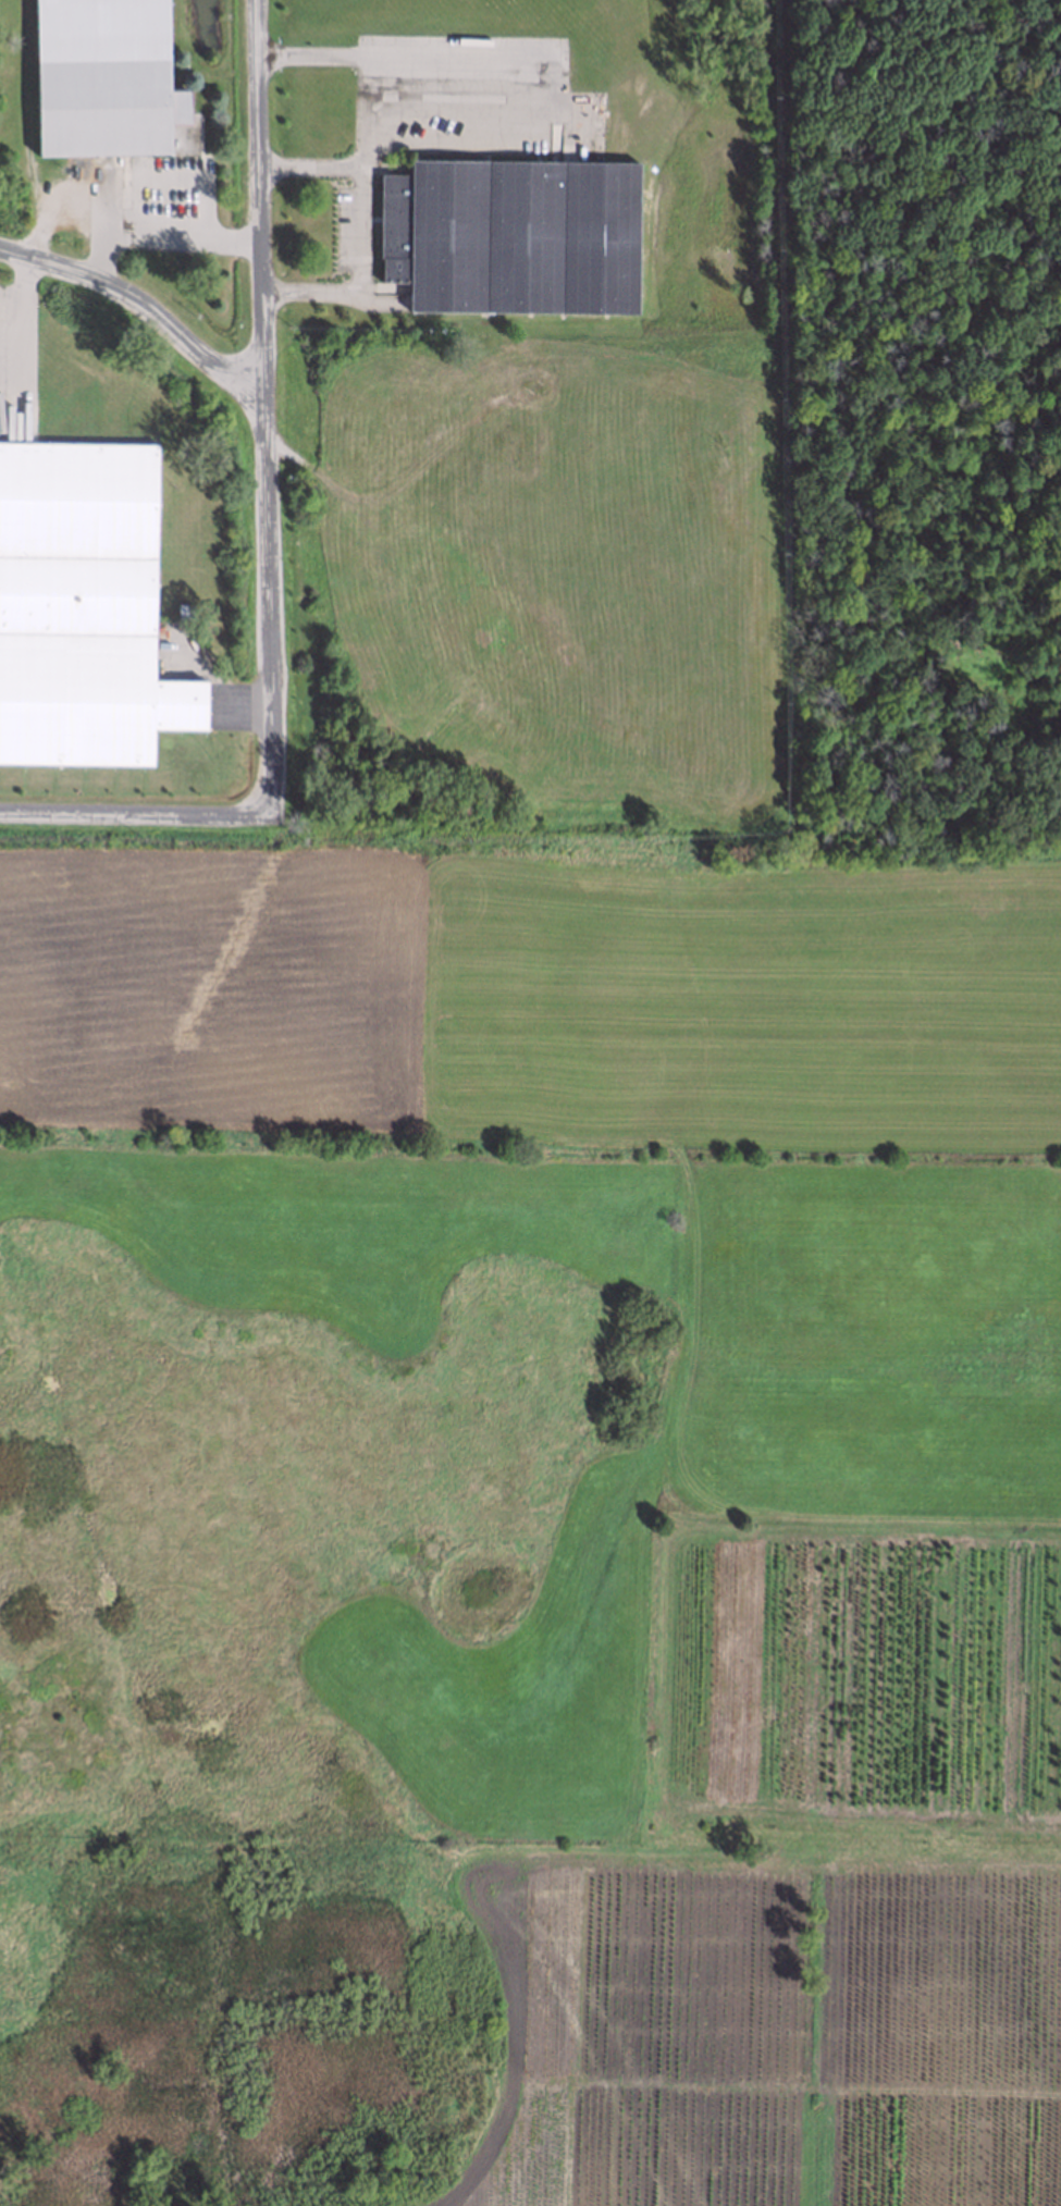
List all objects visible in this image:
building: (103, 81)
road: (370, 94)
road: (503, 130)
road: (314, 165)
road: (162, 230)
building: (510, 233)
road: (148, 307)
road: (26, 310)
road: (260, 414)
building: (79, 606)
building: (181, 609)
road: (137, 828)

